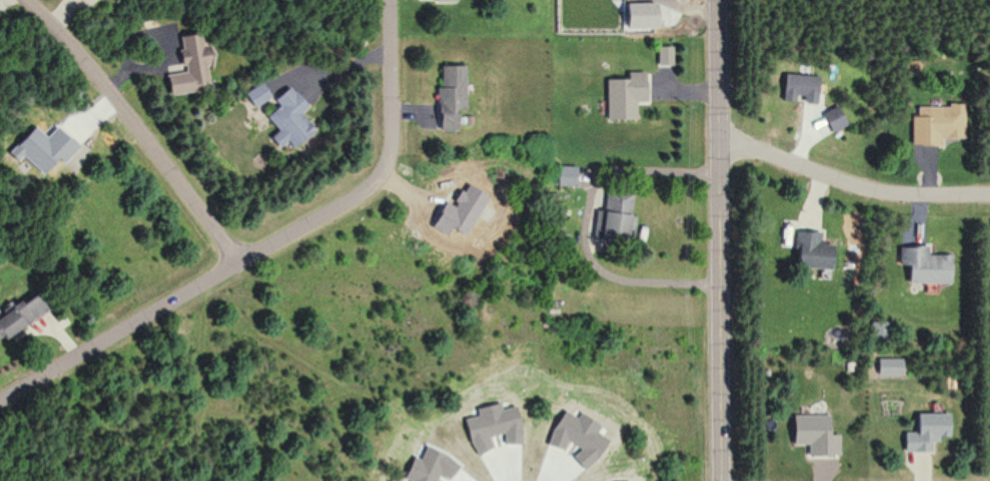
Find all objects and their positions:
building: (186, 66)
building: (799, 87)
building: (255, 94)
building: (449, 95)
building: (626, 95)
building: (287, 119)
building: (936, 124)
road: (138, 127)
road: (383, 169)
road: (850, 183)
road: (586, 224)
building: (613, 229)
road: (718, 240)
building: (809, 250)
building: (923, 265)
building: (18, 312)
road: (120, 331)
building: (927, 432)

